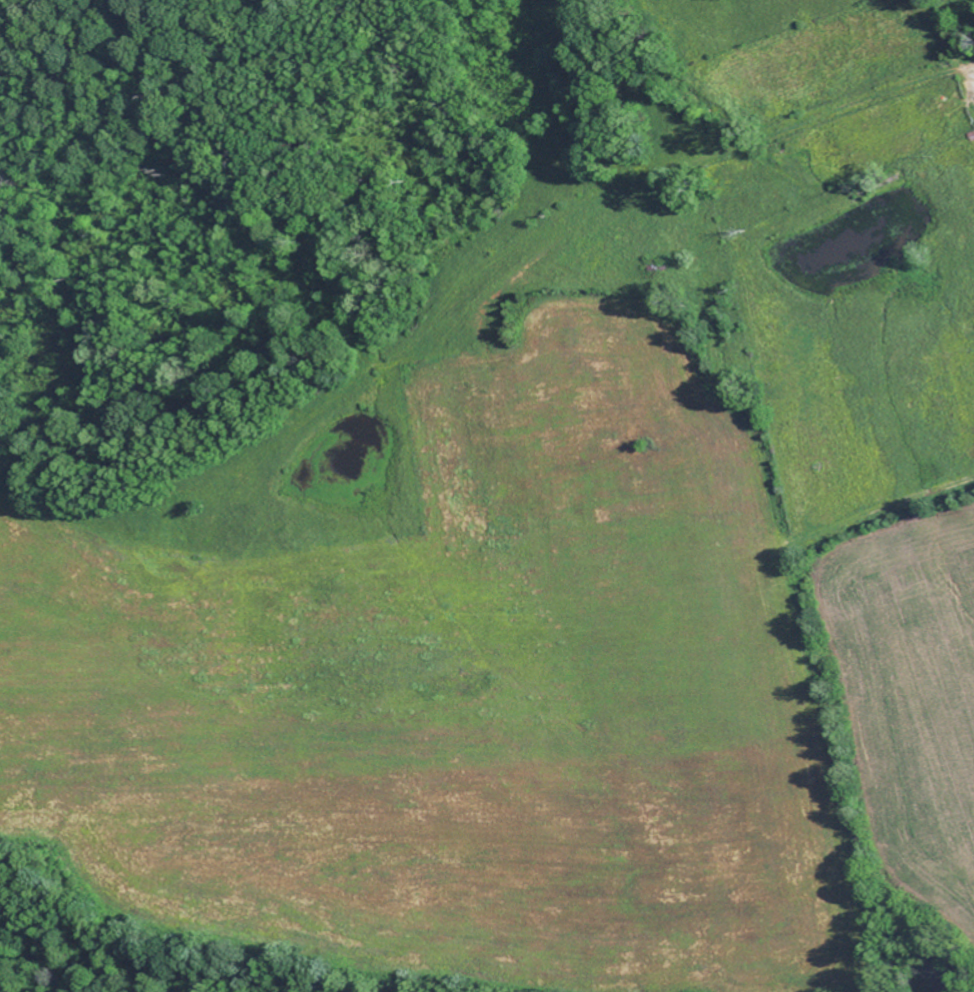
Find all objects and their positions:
road: (971, 78)
road: (644, 166)
road: (592, 219)

